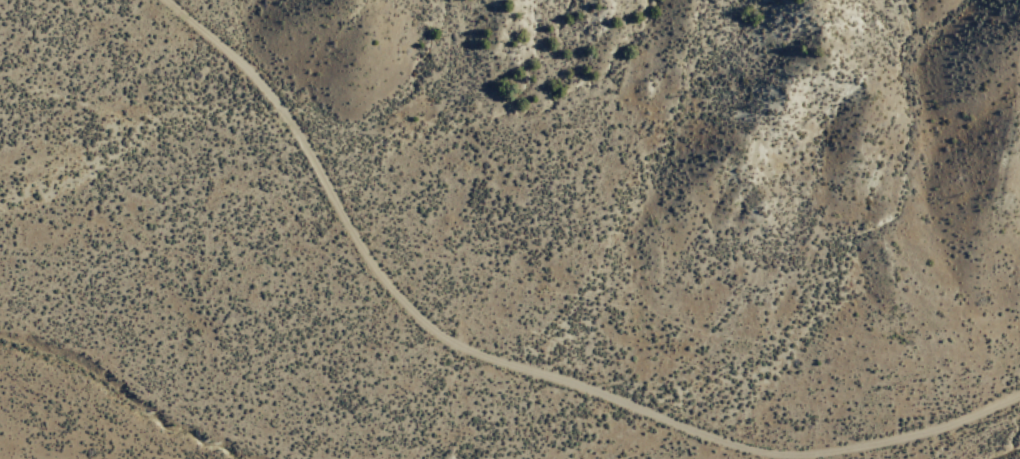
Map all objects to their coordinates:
crop: (21, 224)
road: (387, 295)
crop: (856, 381)
road: (966, 444)

